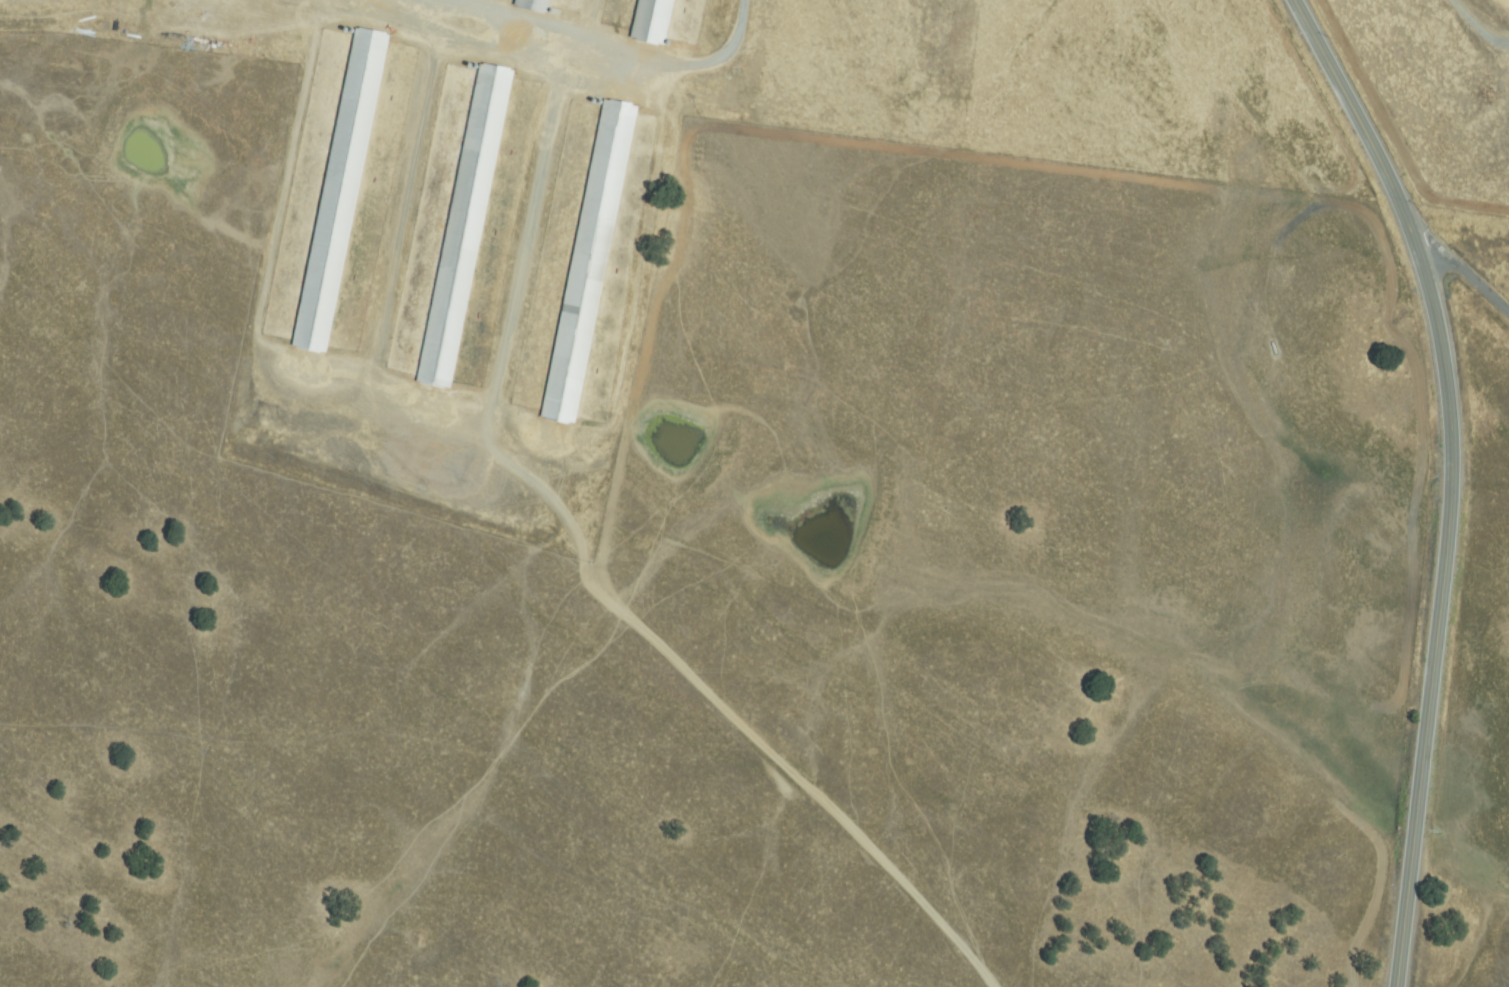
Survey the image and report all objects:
building: (533, 4)
building: (652, 20)
road: (632, 47)
building: (341, 190)
building: (465, 227)
building: (589, 261)
road: (1464, 276)
road: (1447, 477)

